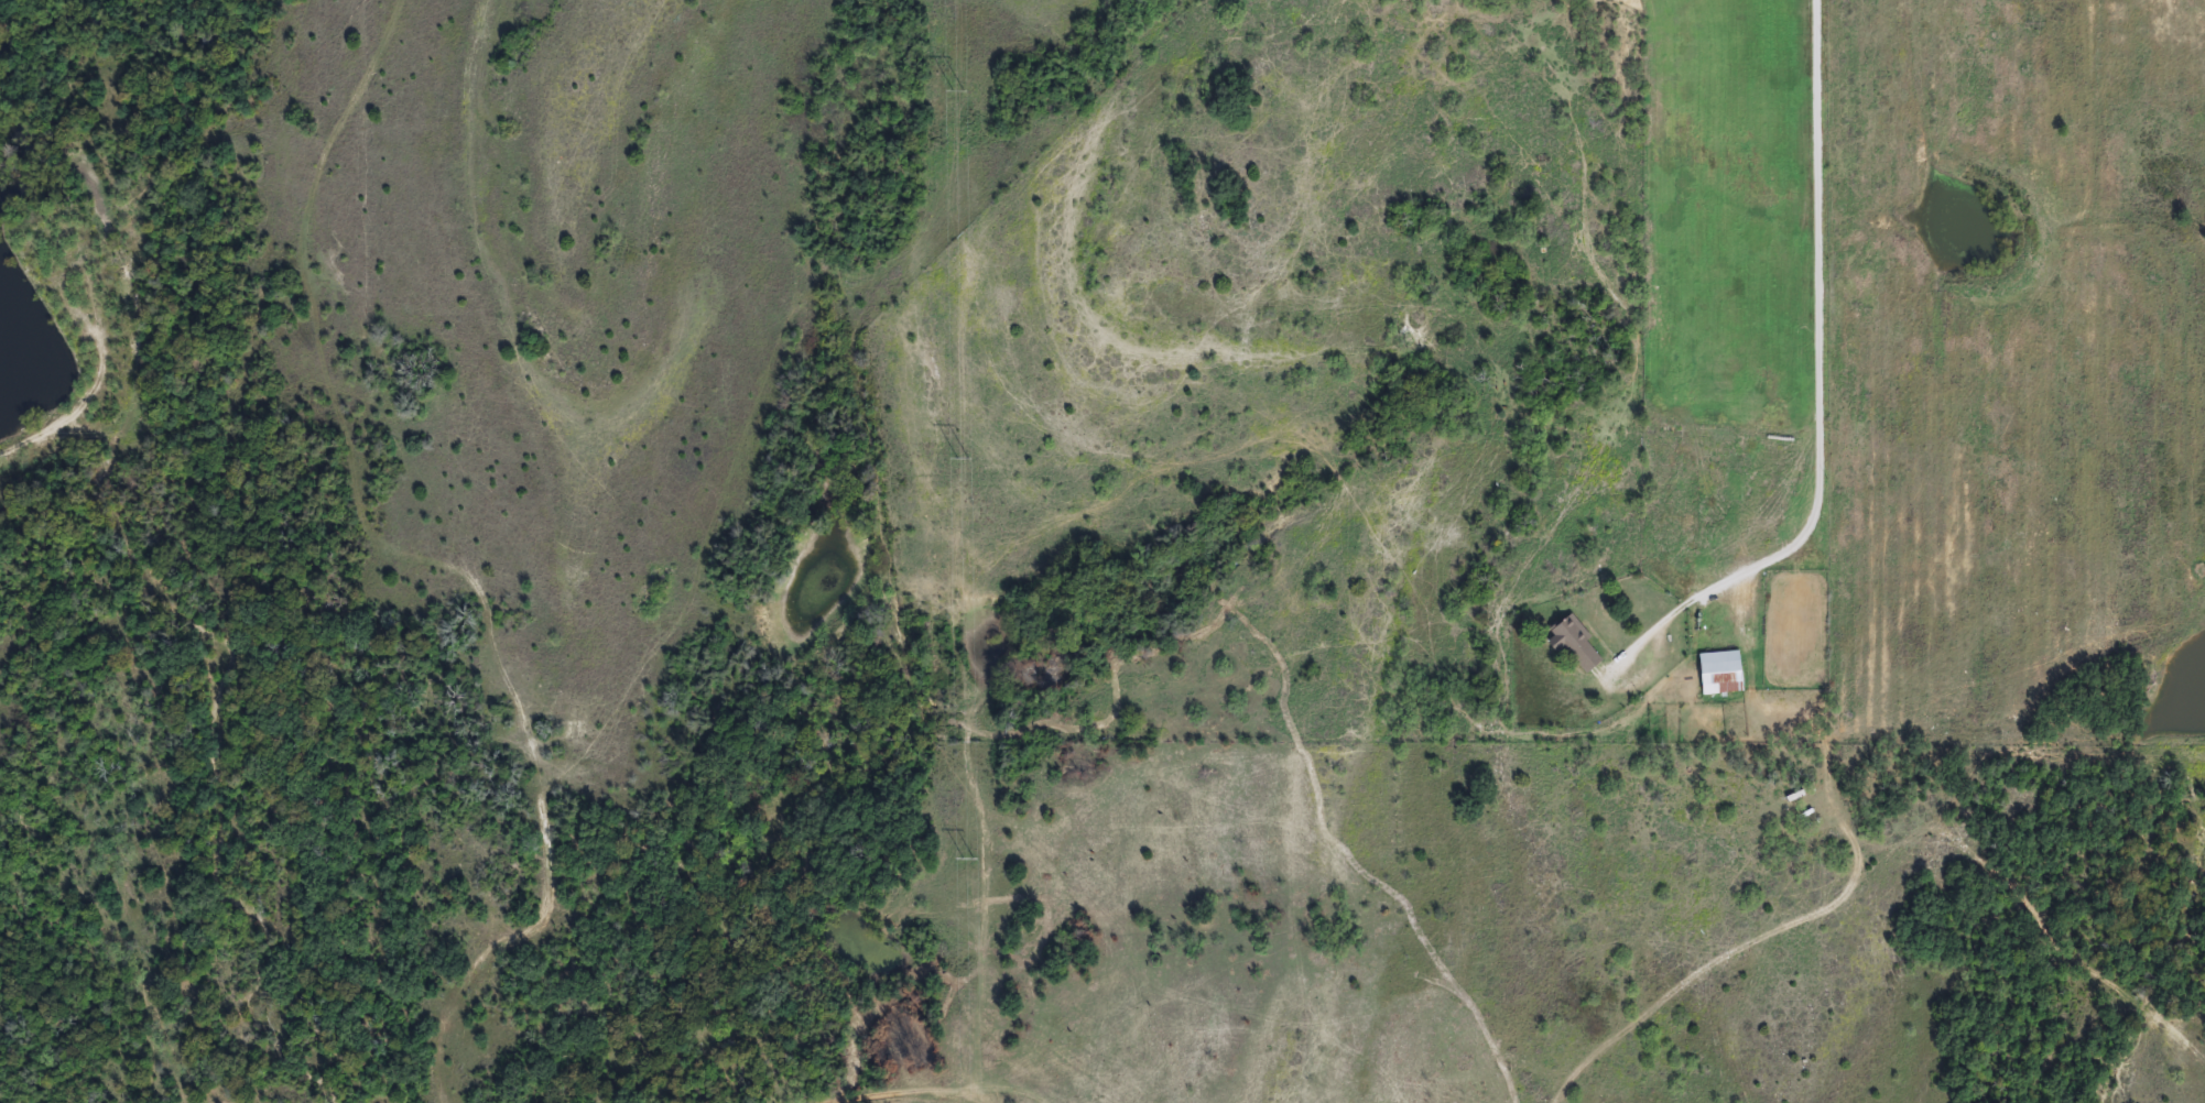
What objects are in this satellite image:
power tower: (963, 114)
road: (1815, 335)
road: (54, 413)
power tower: (968, 490)
building: (1576, 645)
building: (1720, 673)
power tower: (973, 881)
road: (978, 995)
road: (942, 1094)

